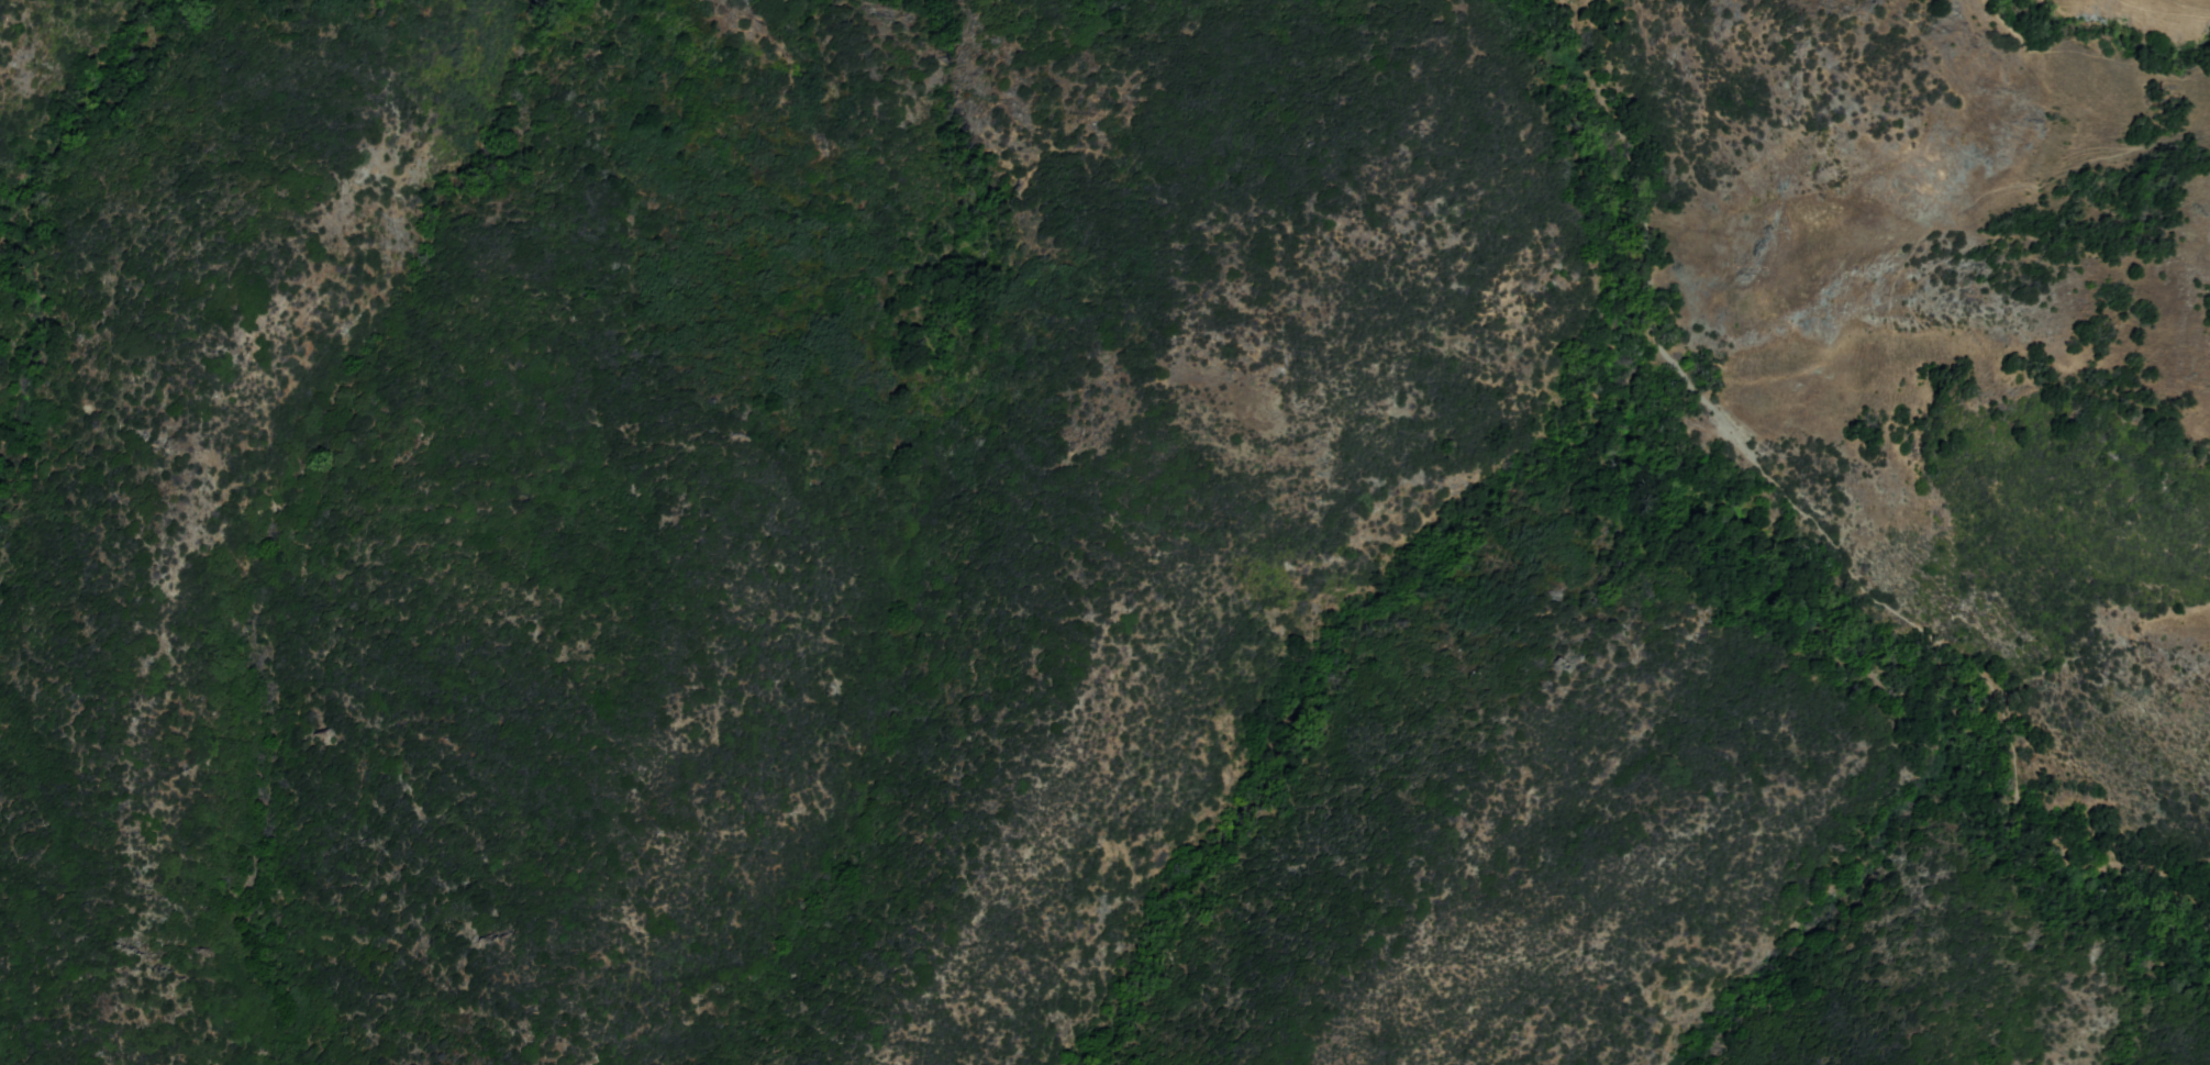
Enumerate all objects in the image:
road: (1802, 521)

